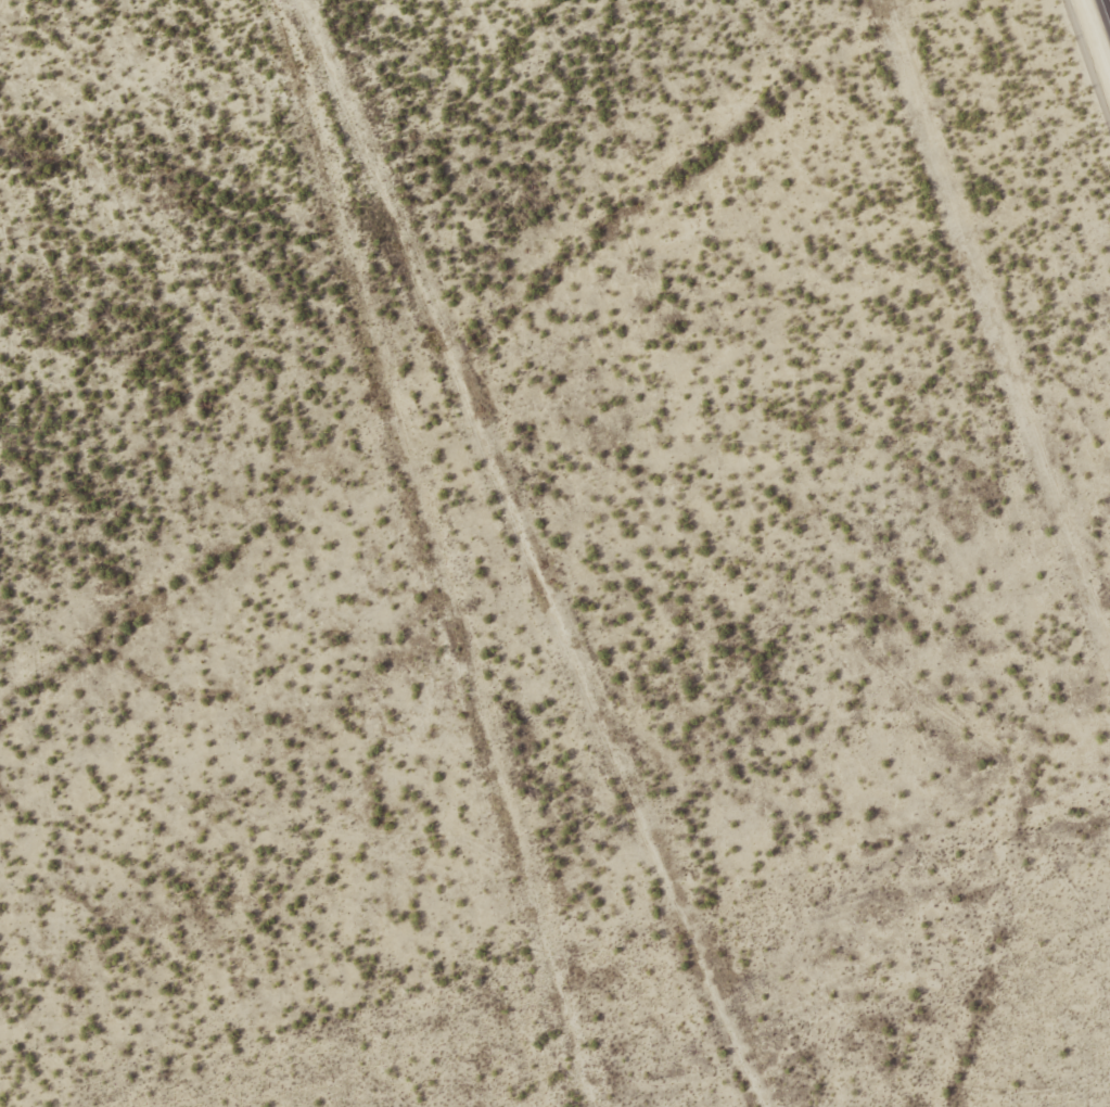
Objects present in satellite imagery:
road: (2, 3)

